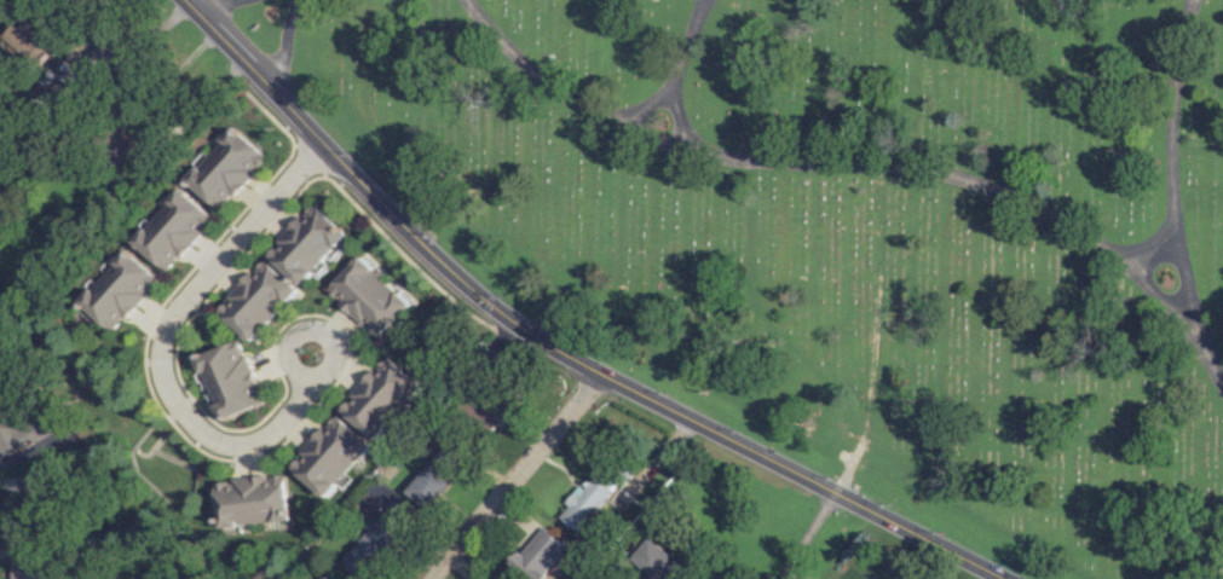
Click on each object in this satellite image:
road: (214, 6)
building: (28, 42)
road: (284, 42)
building: (103, 60)
road: (673, 74)
road: (675, 114)
road: (1177, 143)
building: (117, 146)
road: (852, 158)
building: (226, 167)
building: (173, 228)
park: (842, 228)
building: (305, 243)
building: (120, 289)
building: (367, 296)
building: (258, 300)
road: (550, 346)
building: (232, 380)
building: (380, 398)
road: (179, 403)
building: (488, 415)
building: (19, 432)
building: (330, 456)
building: (433, 475)
road: (512, 476)
building: (17, 491)
building: (589, 499)
building: (252, 500)
road: (804, 534)
building: (376, 540)
building: (541, 555)
building: (654, 558)
building: (28, 567)
building: (335, 577)

